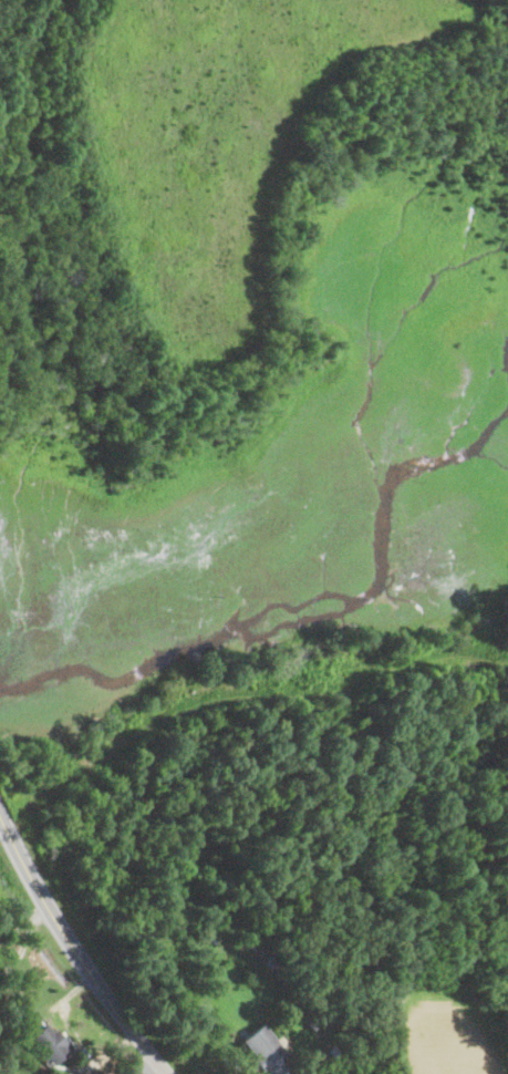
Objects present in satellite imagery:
road: (24, 923)
road: (21, 950)
road: (76, 950)
building: (237, 952)
building: (49, 1044)
building: (266, 1052)
building: (335, 1052)
building: (326, 1056)

